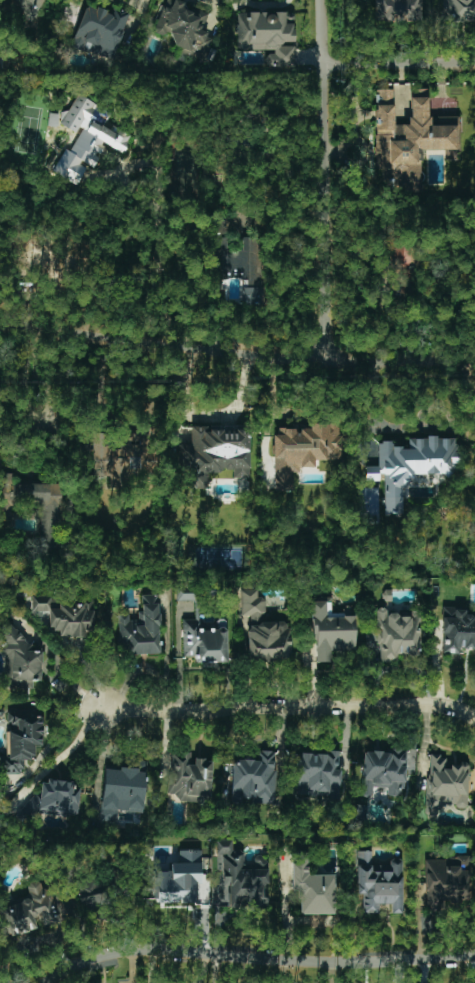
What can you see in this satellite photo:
building: (30, 8)
building: (395, 10)
building: (459, 10)
road: (143, 11)
building: (184, 29)
building: (100, 31)
building: (268, 36)
road: (397, 65)
building: (408, 137)
building: (87, 138)
road: (320, 180)
road: (156, 212)
building: (233, 255)
building: (402, 257)
road: (10, 322)
road: (246, 357)
road: (374, 406)
road: (25, 414)
road: (210, 415)
building: (303, 450)
building: (216, 453)
building: (121, 458)
building: (411, 467)
building: (369, 505)
building: (51, 511)
building: (67, 616)
building: (141, 629)
building: (331, 630)
building: (457, 630)
building: (264, 631)
building: (396, 634)
building: (205, 641)
building: (18, 660)
road: (289, 706)
building: (21, 739)
building: (383, 772)
building: (318, 774)
building: (189, 778)
building: (255, 779)
building: (446, 785)
building: (122, 790)
building: (52, 799)
building: (465, 864)
building: (178, 879)
building: (238, 881)
building: (445, 882)
building: (378, 884)
building: (312, 888)
building: (92, 893)
building: (28, 912)
road: (257, 957)

